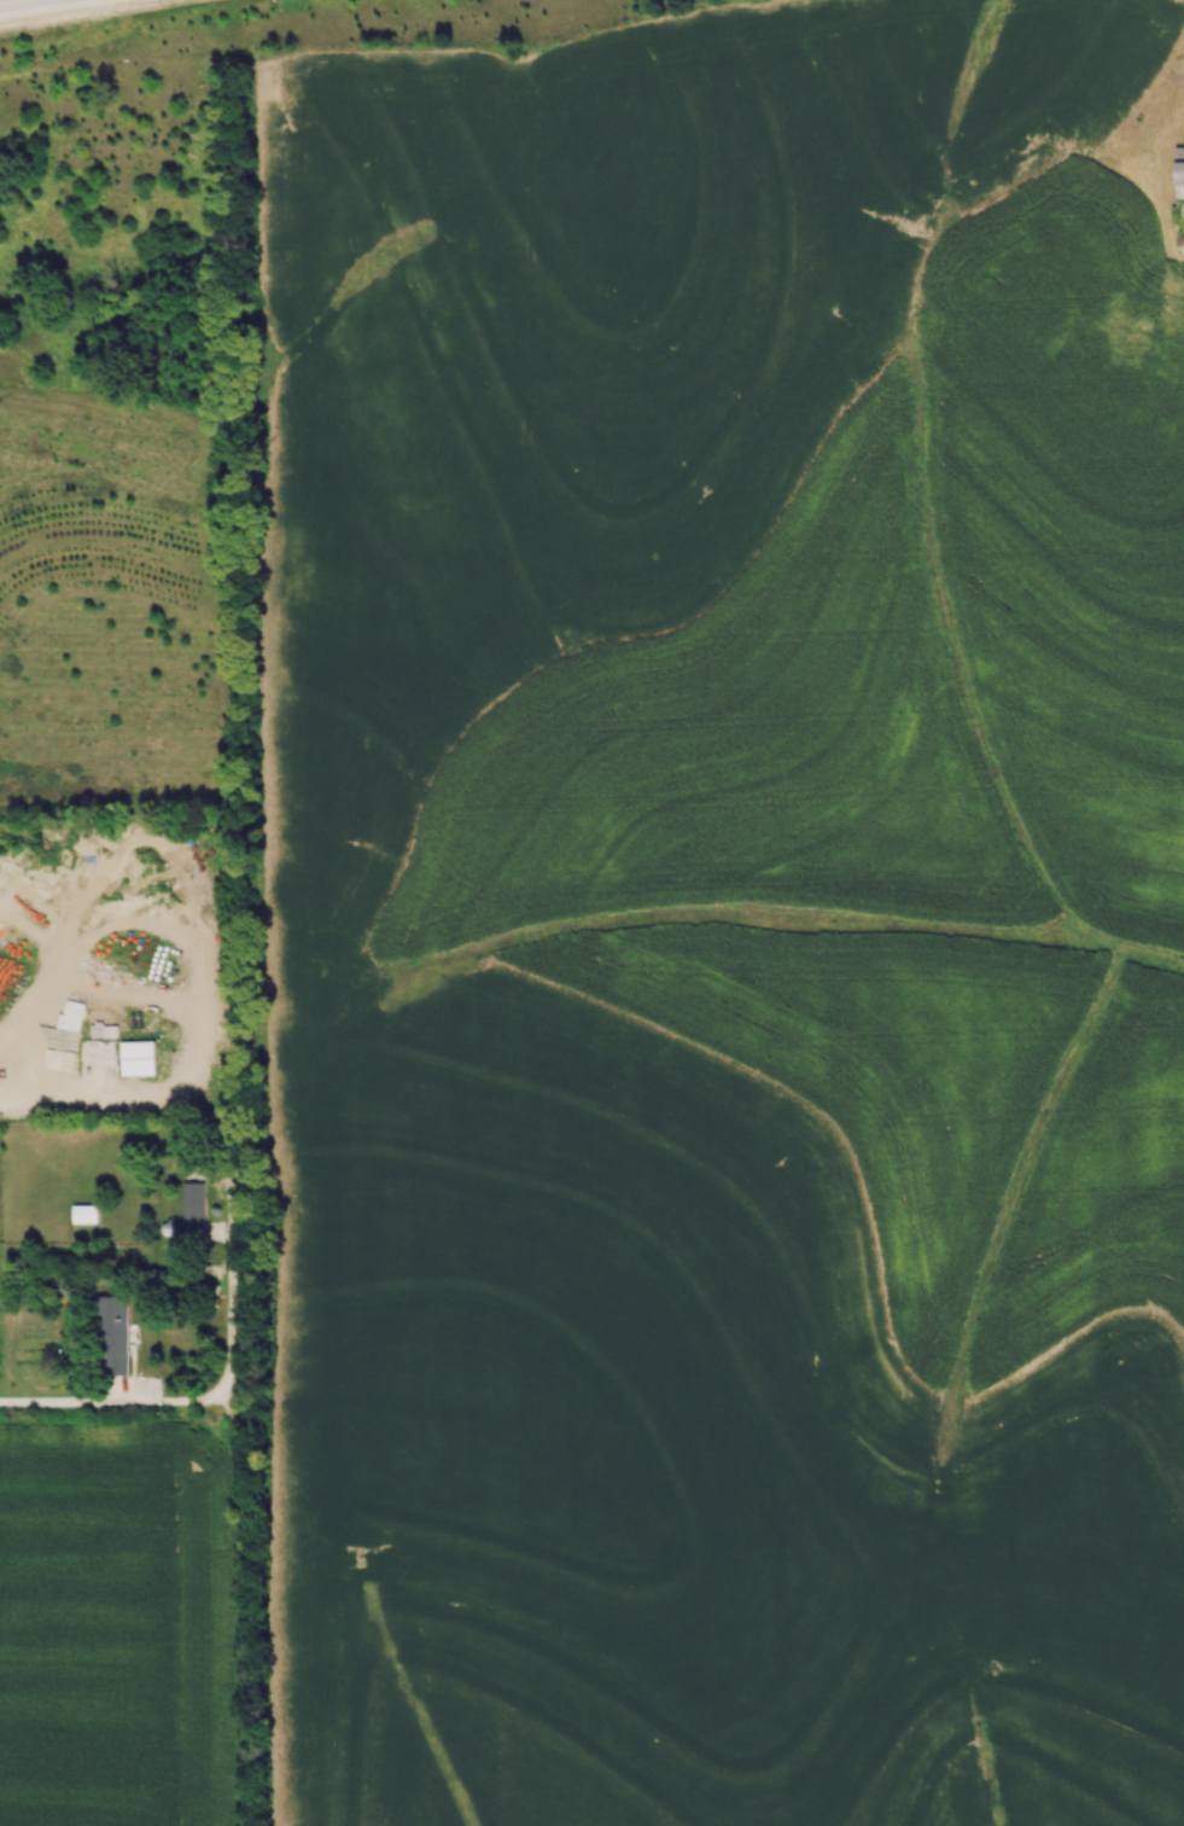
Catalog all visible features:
road: (31, 5)
building: (1179, 170)
crop: (731, 923)
building: (138, 1057)
building: (192, 1206)
building: (83, 1213)
building: (112, 1333)
road: (205, 1395)

